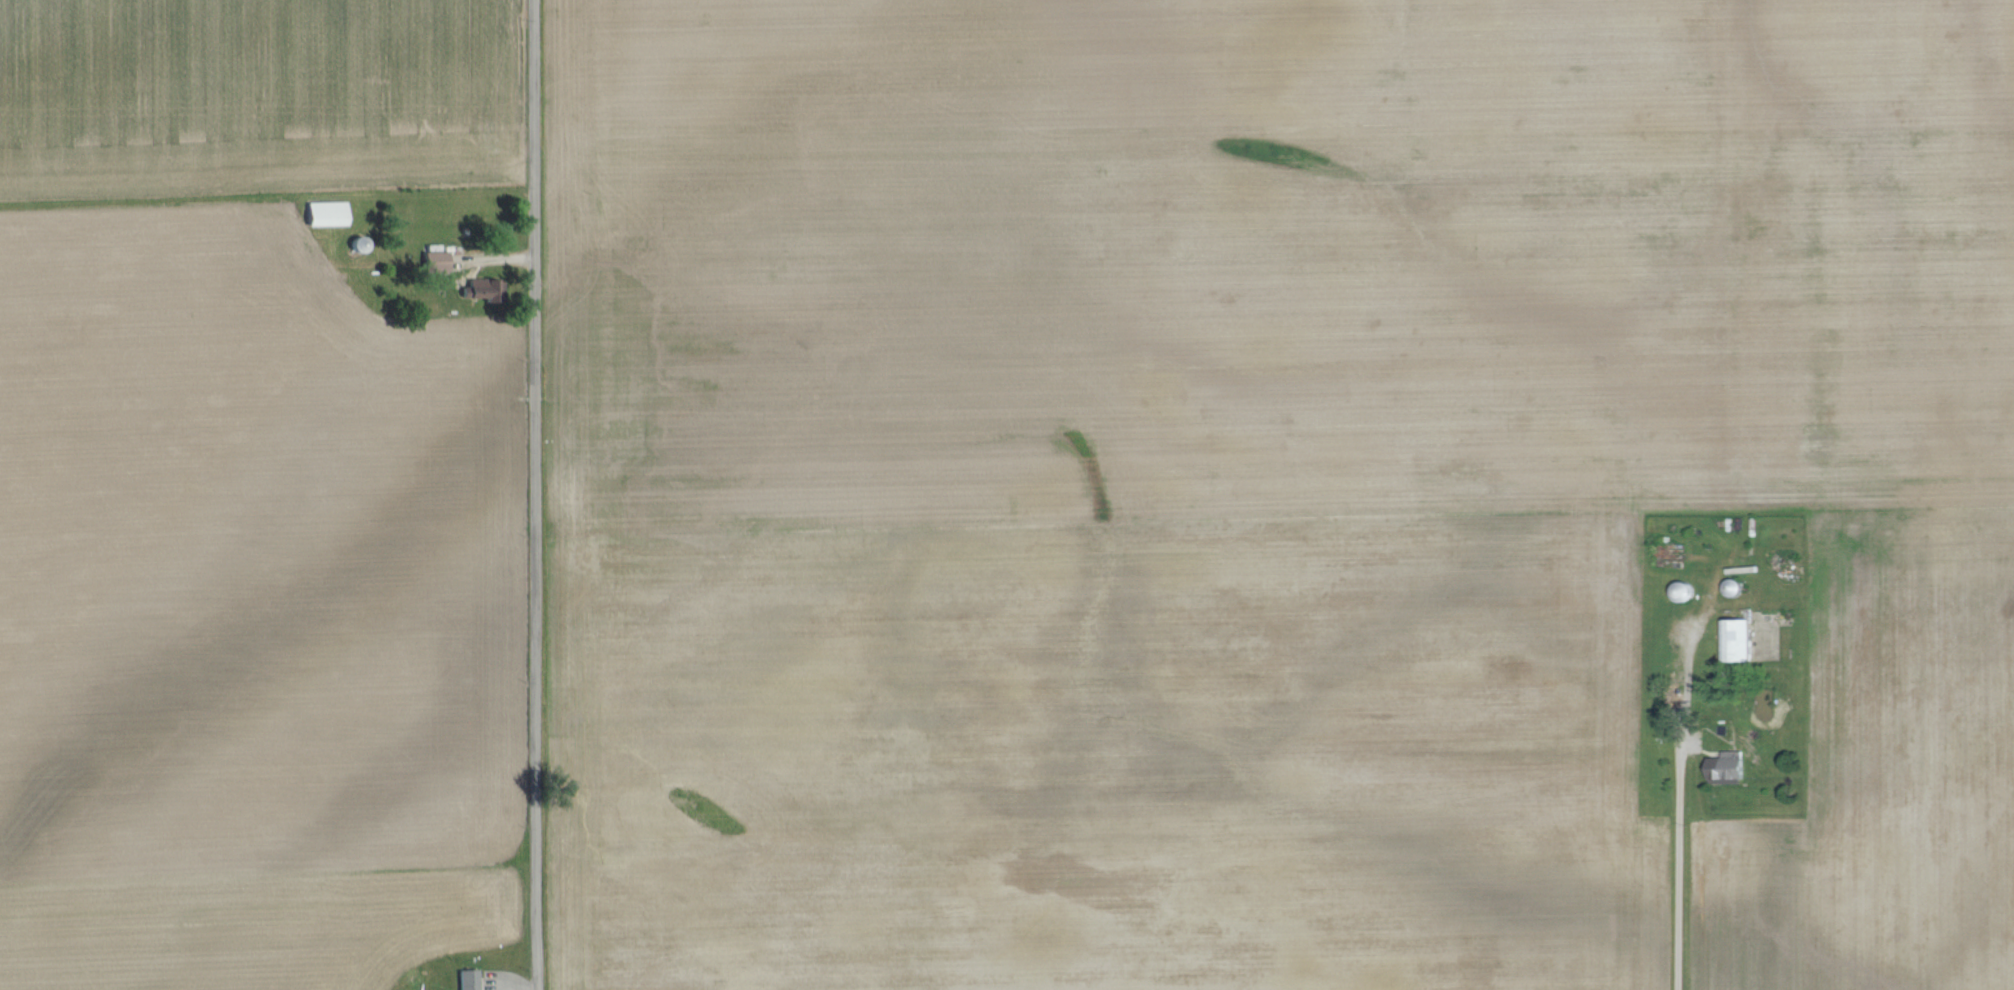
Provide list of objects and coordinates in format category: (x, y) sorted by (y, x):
building: (328, 214)
building: (483, 291)
road: (537, 495)
building: (1741, 639)
building: (1728, 763)
road: (1681, 859)
building: (469, 979)

